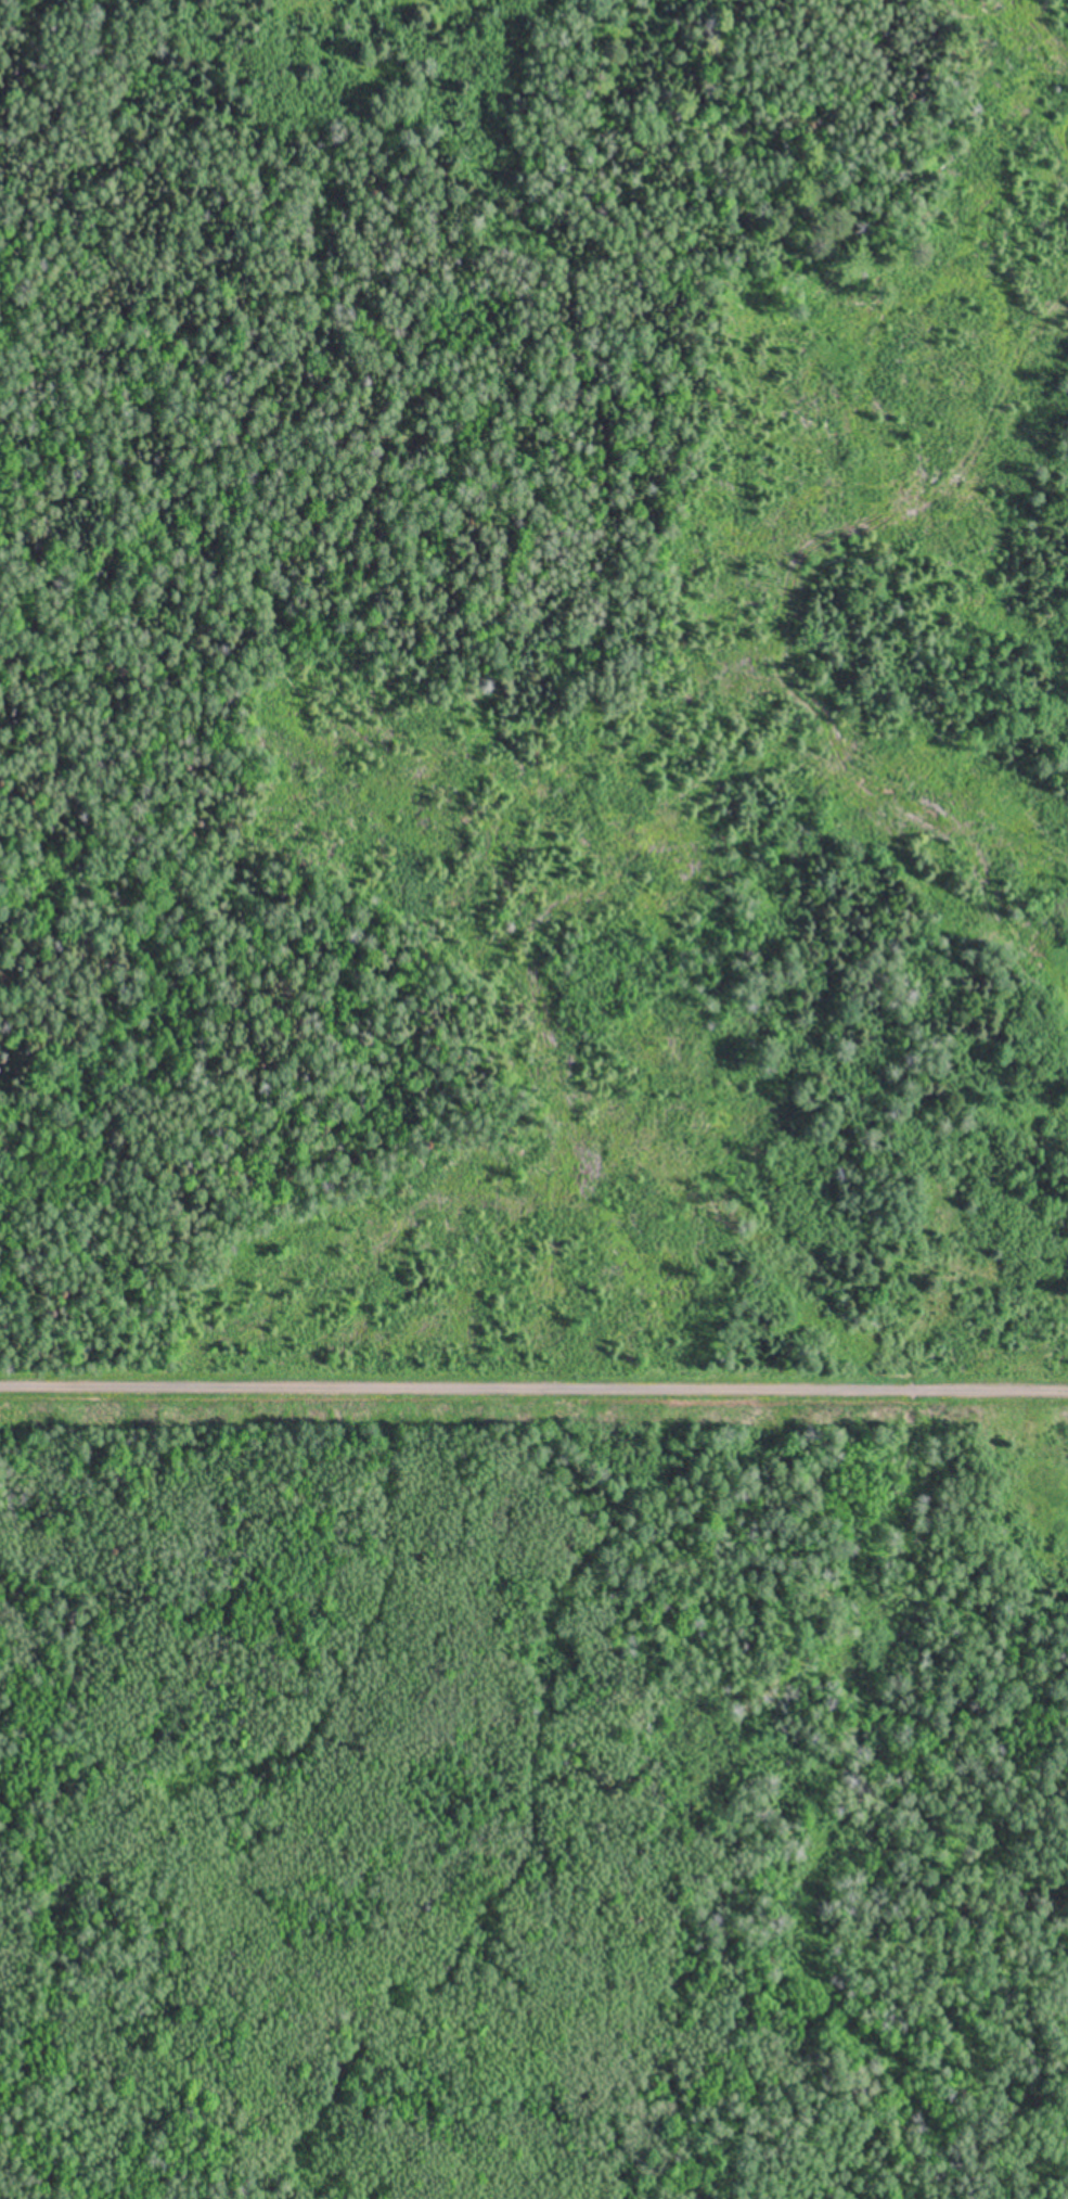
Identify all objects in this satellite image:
road: (533, 1394)

